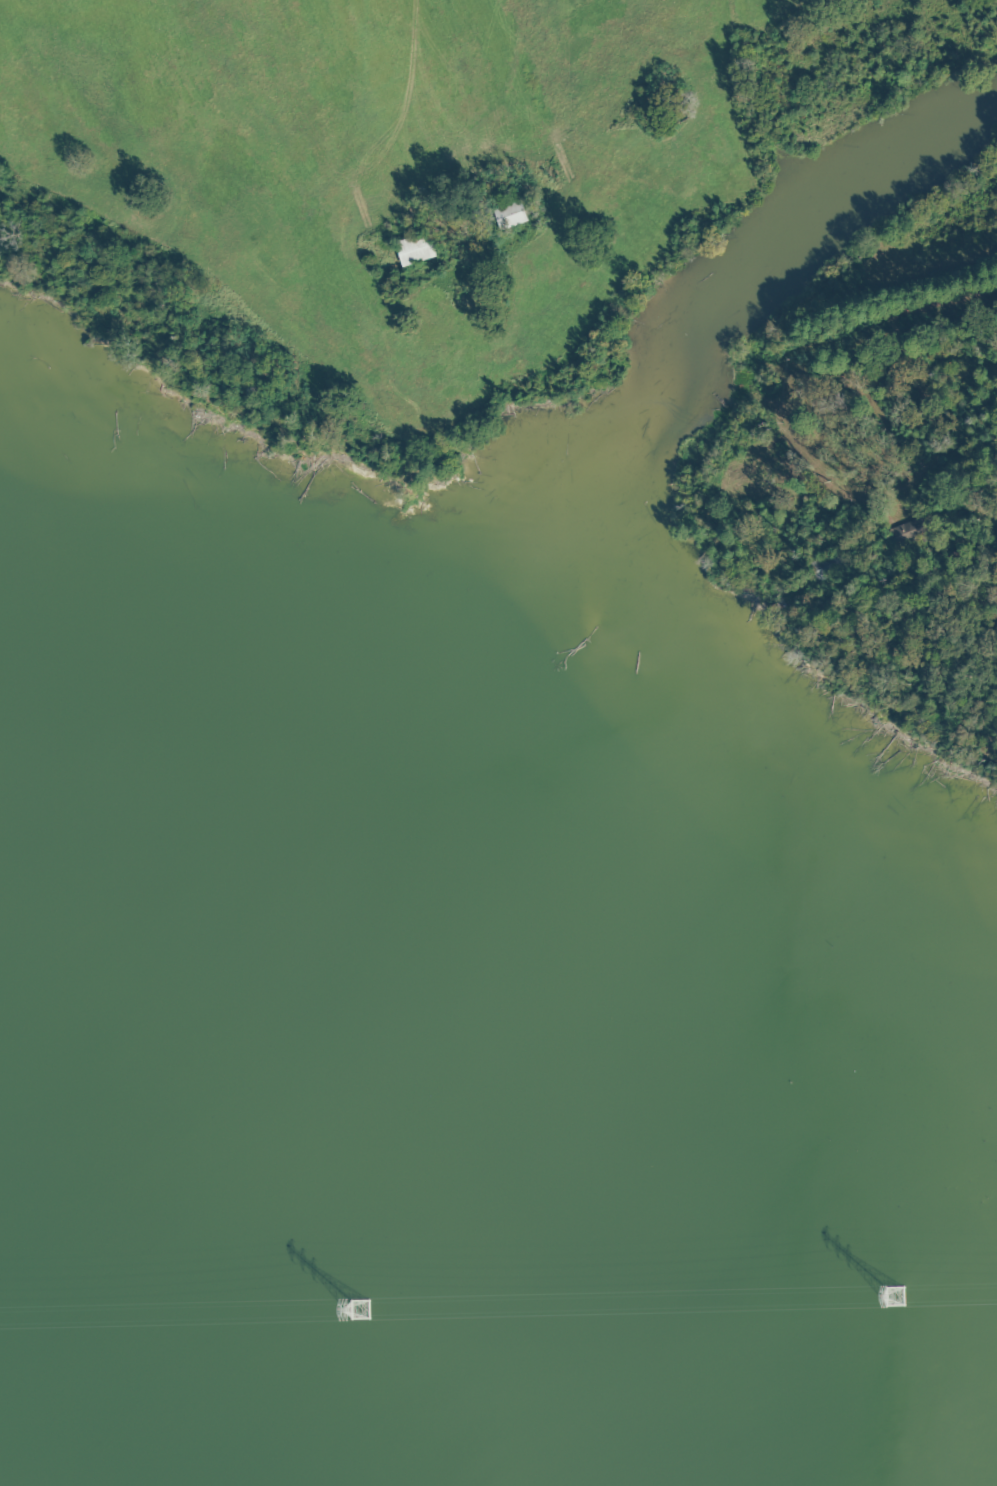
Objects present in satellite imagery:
building: (507, 216)
building: (411, 250)
road: (995, 264)
building: (903, 534)
building: (822, 568)
power tower: (894, 1296)
power tower: (358, 1309)

